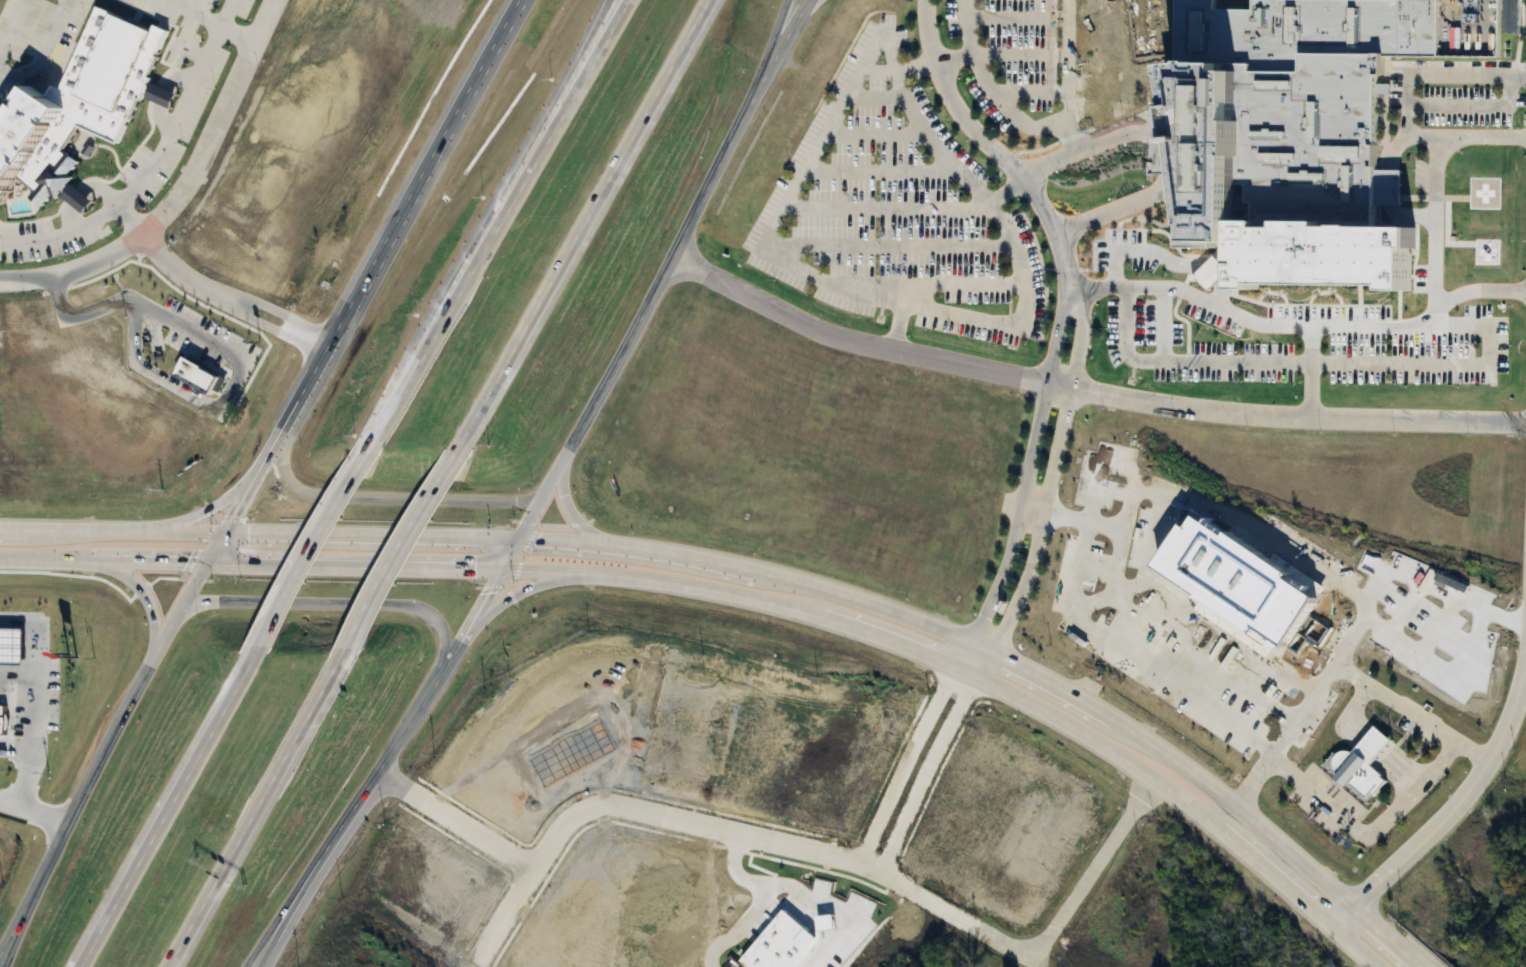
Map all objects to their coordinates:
road: (221, 12)
road: (1047, 18)
road: (208, 20)
road: (11, 24)
road: (777, 38)
road: (785, 38)
road: (1127, 42)
road: (1051, 55)
parking lot: (1050, 56)
road: (956, 60)
road: (982, 72)
road: (1447, 78)
building: (84, 93)
road: (1057, 94)
road: (554, 101)
building: (1293, 103)
parking lot: (1434, 104)
road: (1446, 107)
road: (1484, 108)
road: (1081, 110)
road: (453, 112)
road: (166, 135)
road: (1069, 135)
road: (1464, 139)
road: (1162, 147)
road: (992, 148)
road: (1391, 183)
road: (178, 188)
helipad: (1484, 193)
road: (1005, 196)
road: (1433, 197)
road: (954, 211)
road: (504, 219)
road: (585, 219)
road: (60, 234)
road: (964, 247)
road: (1157, 252)
road: (913, 259)
road: (1359, 263)
road: (1018, 264)
road: (1114, 271)
road: (1312, 276)
parking lot: (969, 279)
road: (965, 285)
parking lot: (1274, 289)
road: (1099, 290)
road: (1294, 290)
road: (1495, 292)
road: (1465, 295)
road: (226, 301)
road: (643, 308)
road: (963, 316)
road: (898, 326)
road: (1278, 326)
building: (200, 377)
road: (182, 388)
road: (1087, 393)
road: (302, 394)
road: (383, 497)
road: (567, 506)
road: (213, 507)
traffic signals: (225, 533)
traffic signals: (518, 539)
road: (317, 544)
road: (406, 545)
traffic signals: (209, 560)
traffic signals: (502, 566)
road: (769, 570)
road: (997, 587)
road: (746, 590)
road: (519, 593)
road: (1019, 593)
road: (144, 597)
road: (332, 603)
road: (1260, 615)
building: (12, 648)
gas station: (12, 648)
building: (652, 690)
road: (424, 692)
building: (3, 721)
road: (31, 723)
road: (115, 728)
road: (1368, 742)
road: (14, 744)
building: (577, 753)
building: (1358, 768)
road: (1300, 782)
road: (1415, 792)
road: (1453, 806)
road: (171, 808)
road: (258, 809)
road: (34, 810)
road: (453, 816)
road: (836, 851)
road: (286, 905)
road: (294, 905)
road: (15, 928)
road: (16, 934)
building: (782, 946)

